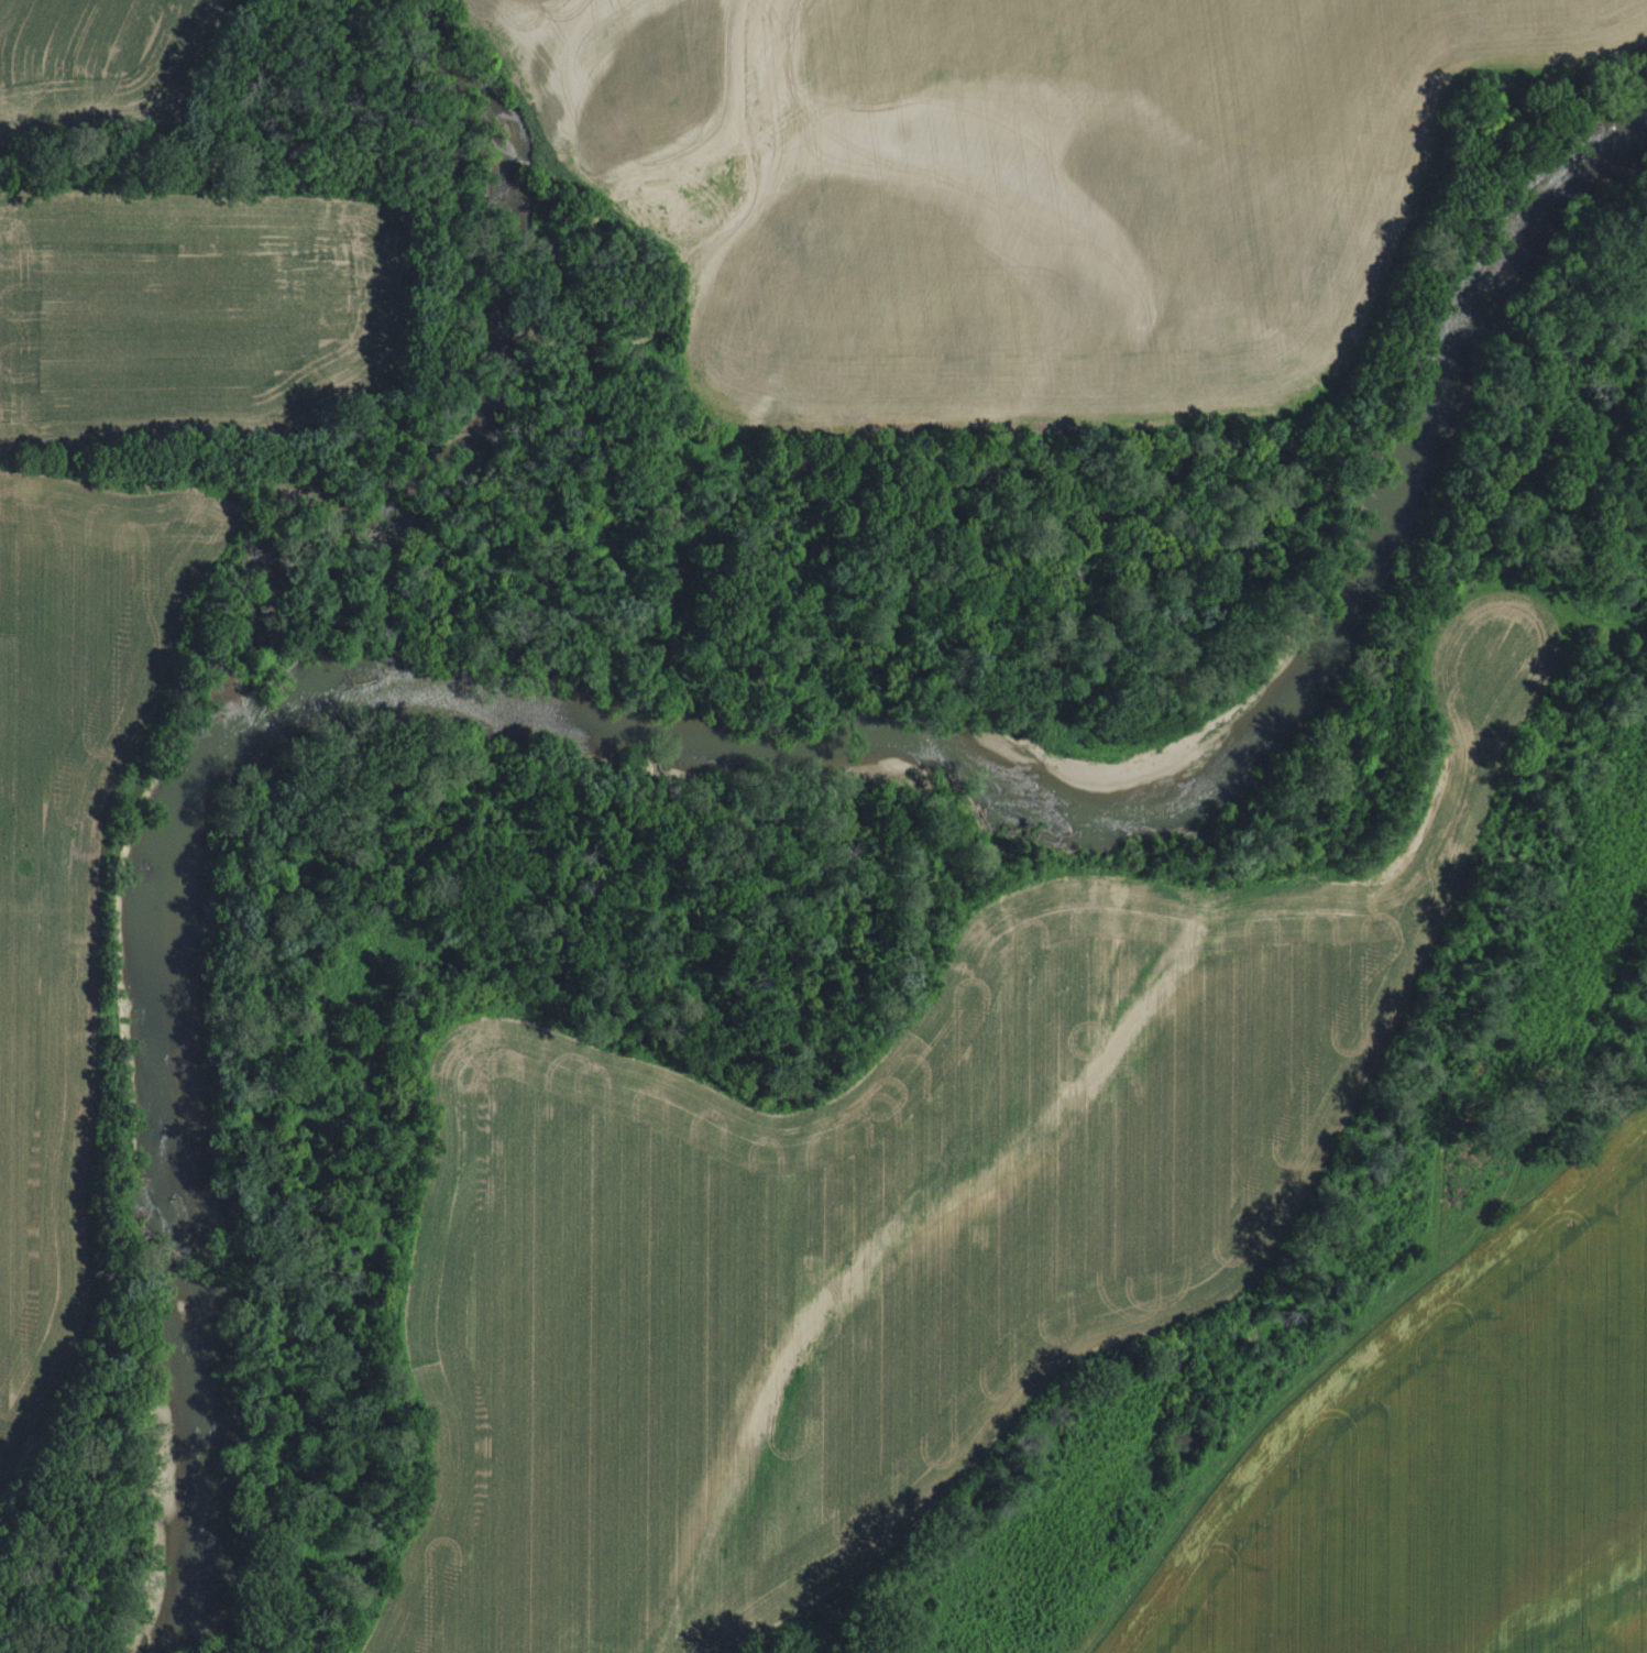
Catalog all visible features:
river: (654, 729)

